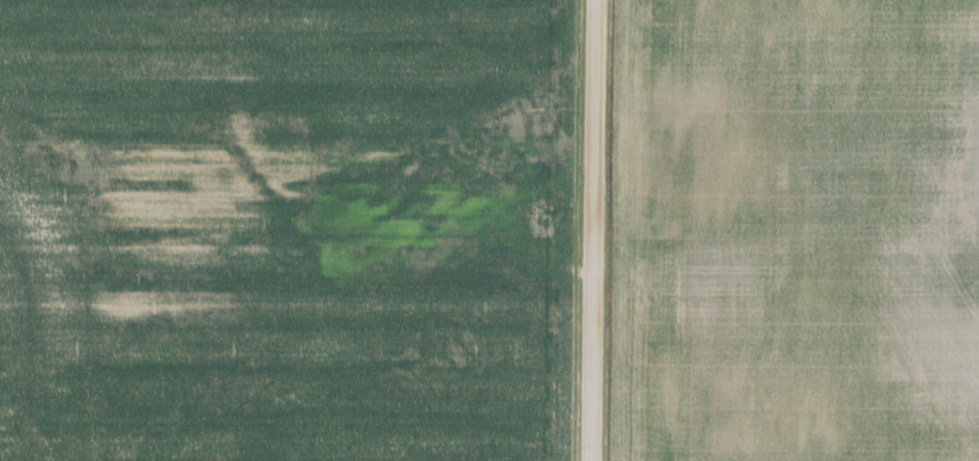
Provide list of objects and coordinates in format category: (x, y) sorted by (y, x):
road: (604, 230)

